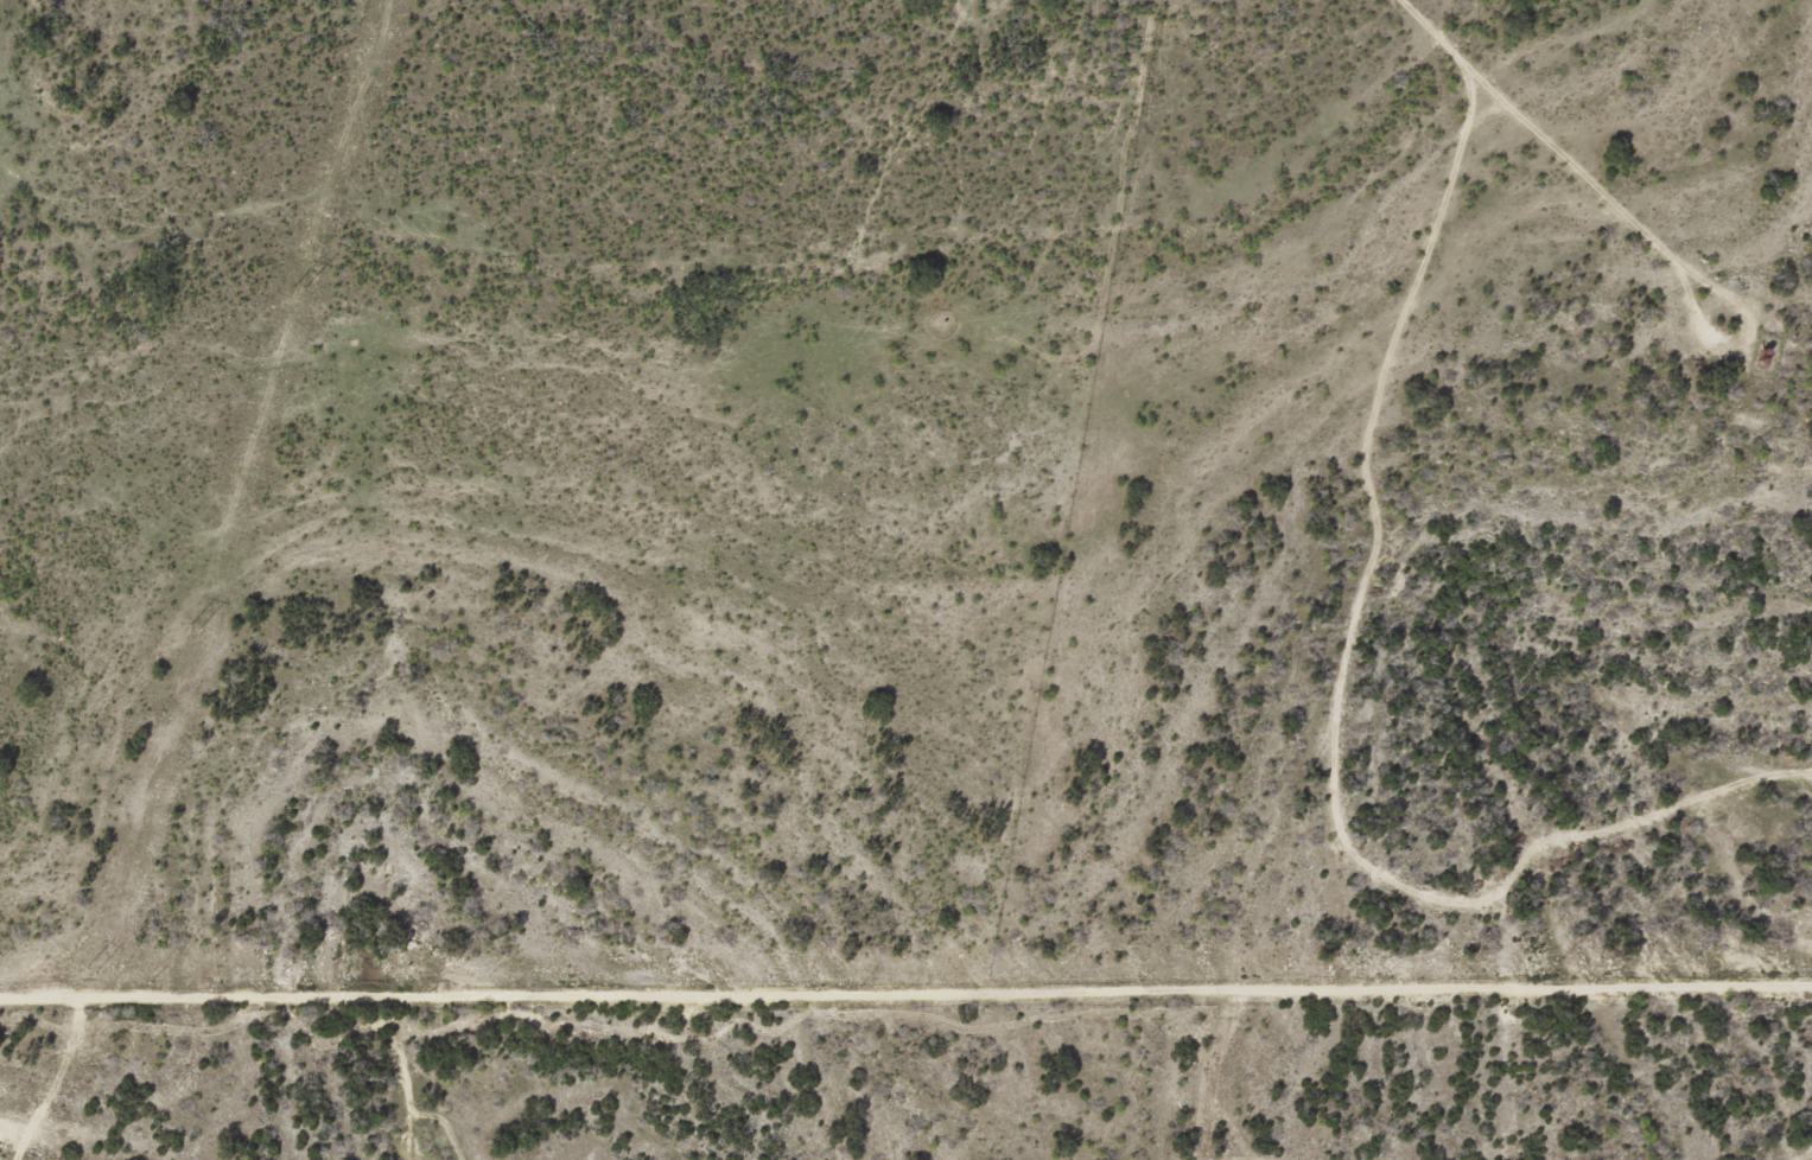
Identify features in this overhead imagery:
road: (1517, 138)
power tower: (295, 285)
power tower: (193, 623)
road: (1328, 719)
road: (1760, 899)
power tower: (90, 967)
road: (905, 981)
road: (1803, 1148)

